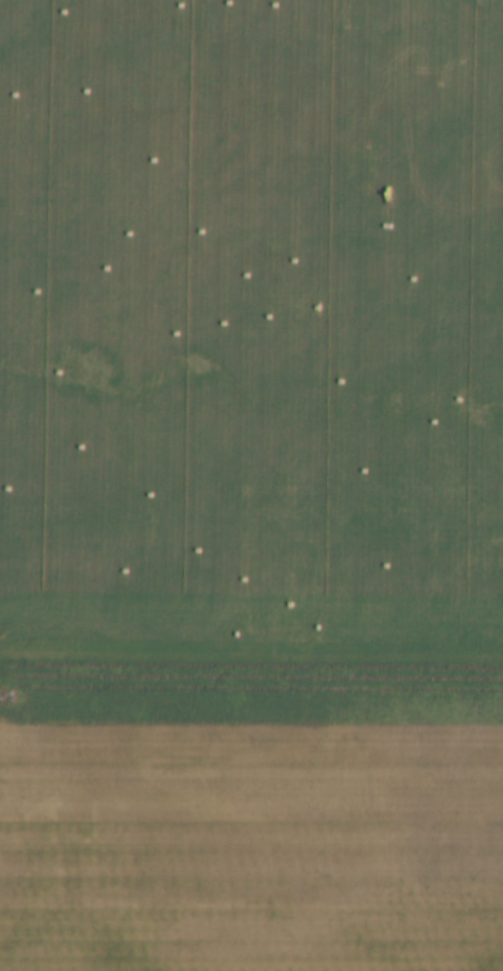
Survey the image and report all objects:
quarry: (251, 485)

